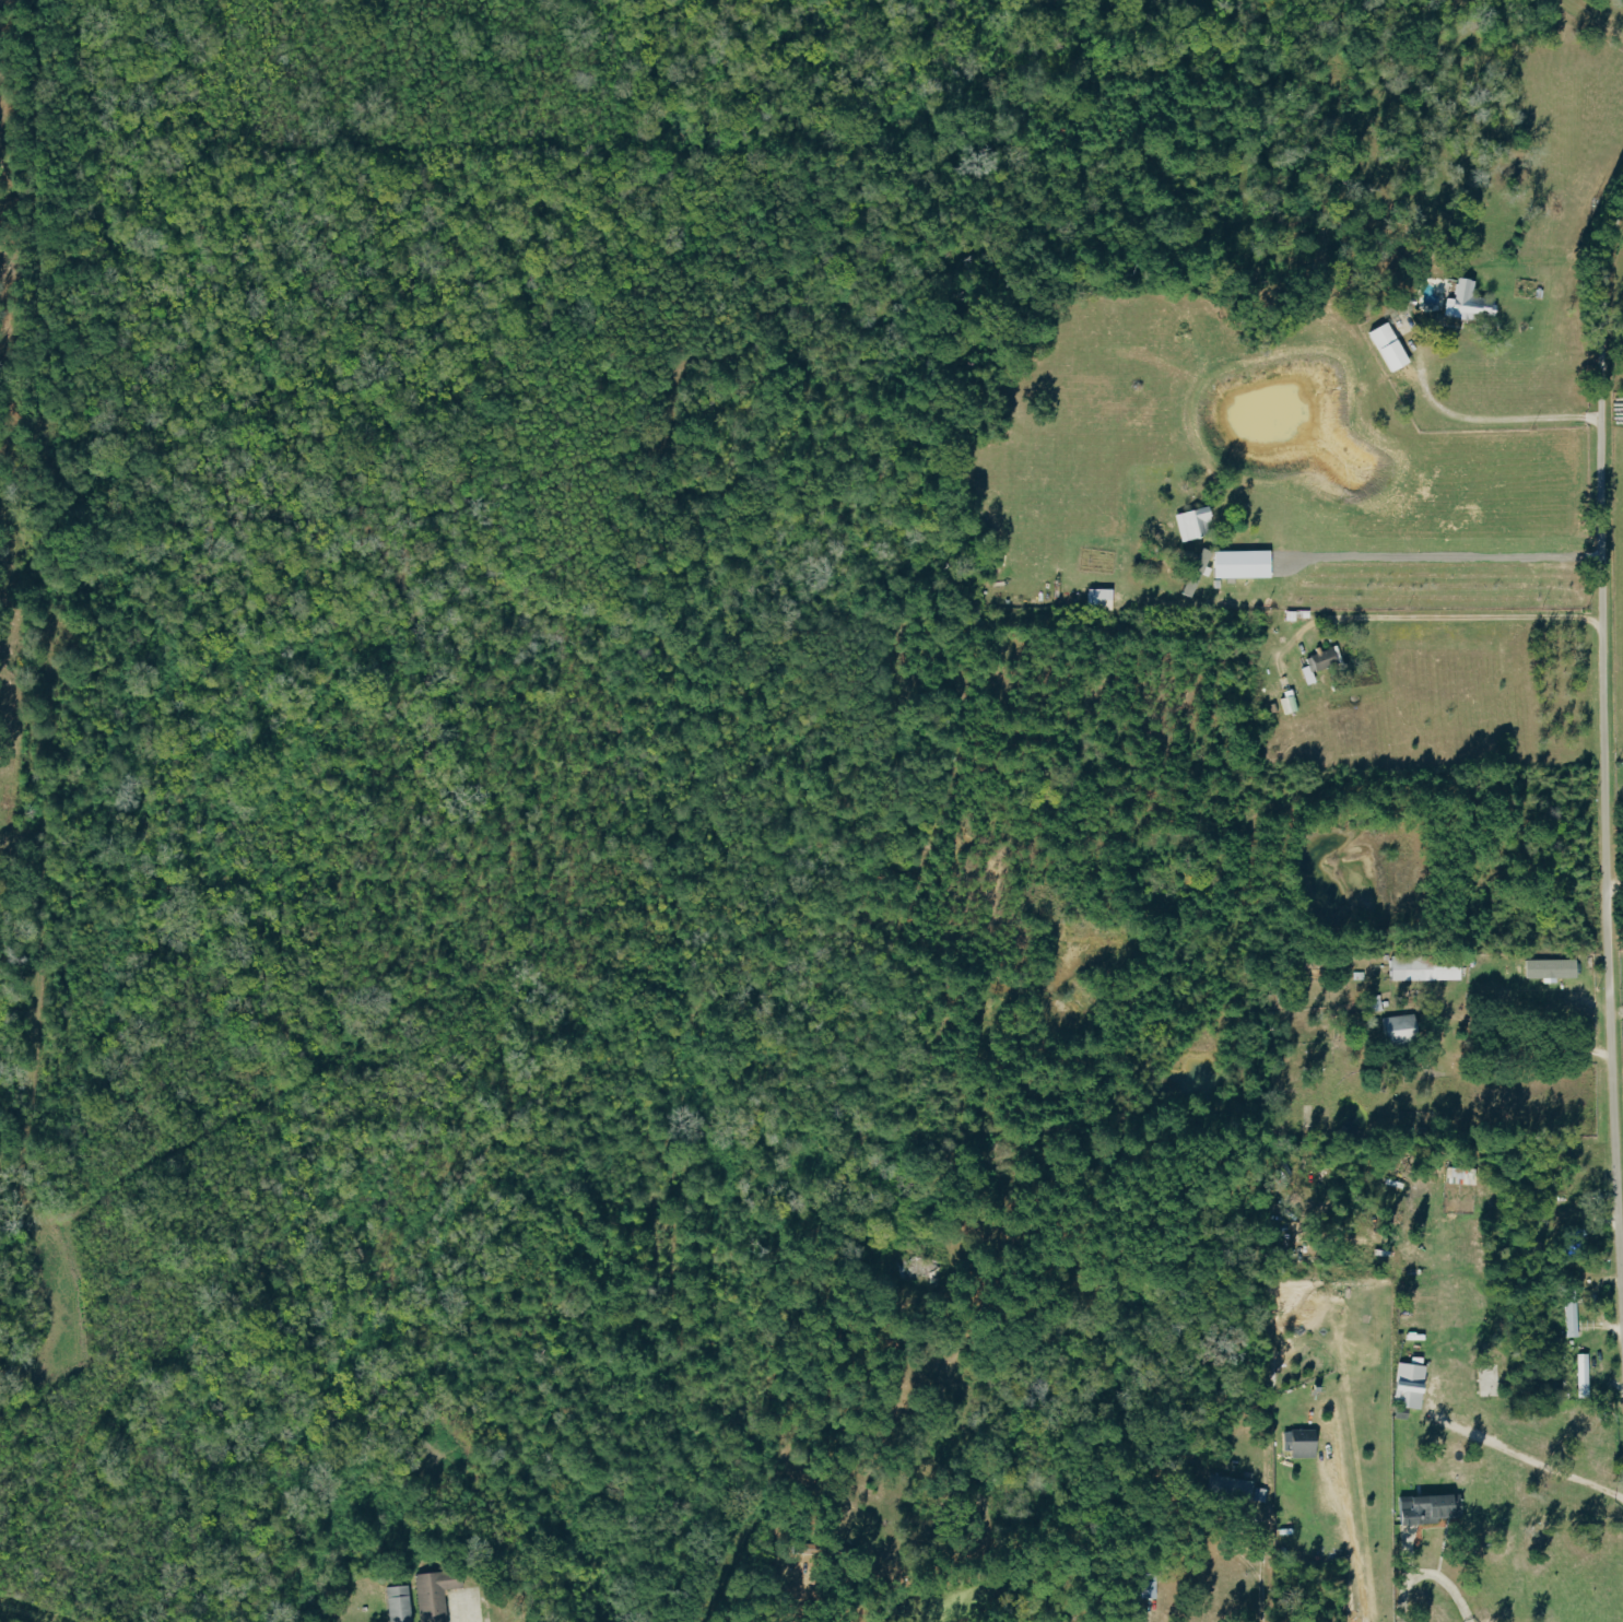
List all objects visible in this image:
building: (1471, 304)
park: (1616, 320)
building: (1385, 337)
road: (1487, 422)
building: (1197, 525)
road: (1436, 554)
building: (1237, 565)
building: (1102, 599)
road: (1460, 622)
building: (1322, 662)
road: (1603, 763)
road: (1614, 886)
building: (1428, 967)
building: (1403, 1030)
road: (1460, 1055)
building: (1465, 1175)
building: (1574, 1319)
building: (1585, 1375)
building: (1412, 1385)
building: (1306, 1443)
road: (1532, 1458)
building: (1237, 1489)
building: (1432, 1509)
road: (1349, 1539)
road: (1426, 1573)
road: (1261, 1579)
road: (785, 1590)
building: (436, 1592)
building: (400, 1603)

